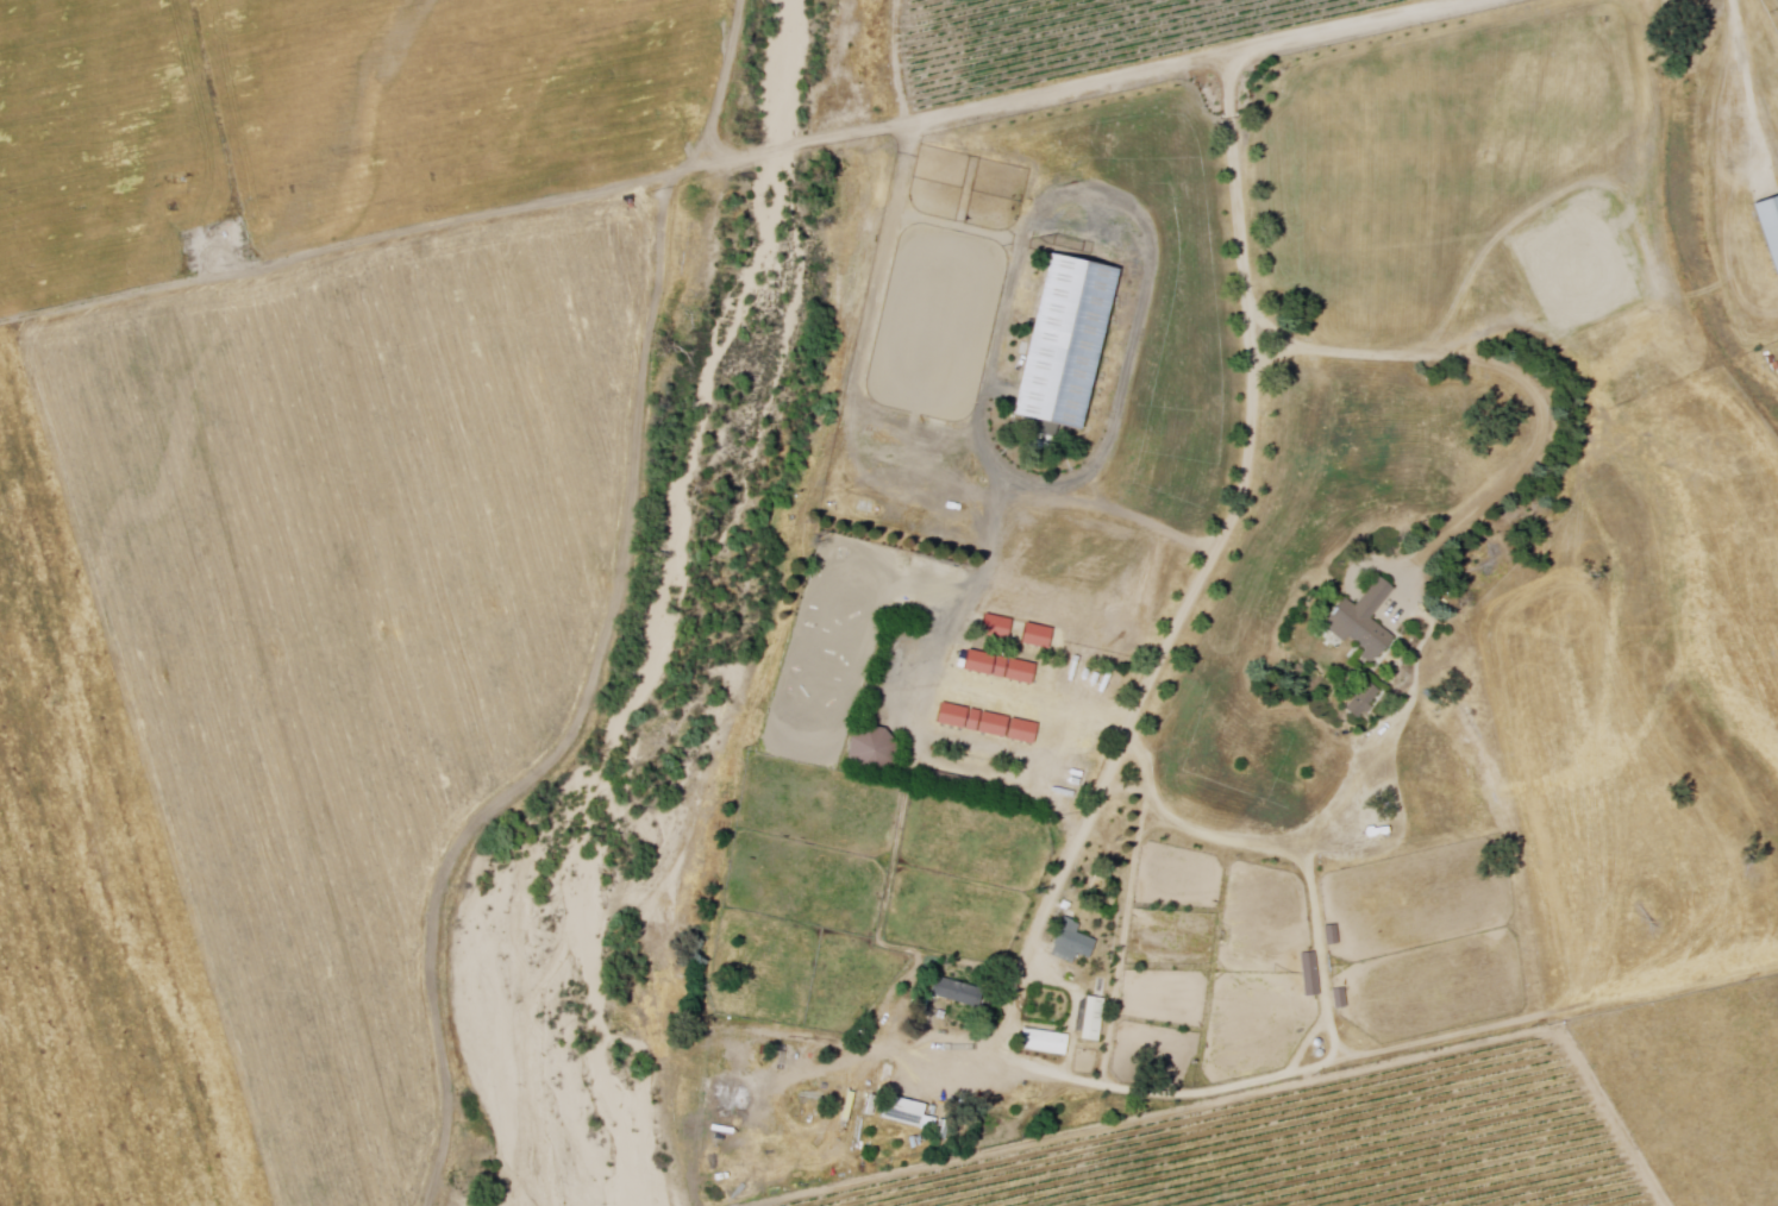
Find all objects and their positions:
road: (1348, 24)
road: (893, 126)
building: (1768, 228)
building: (1064, 341)
road: (1515, 369)
building: (932, 488)
building: (924, 517)
road: (1210, 571)
building: (1361, 623)
crop: (290, 689)
building: (1363, 702)
building: (1068, 729)
building: (870, 750)
building: (1047, 773)
building: (966, 787)
building: (1329, 936)
building: (1072, 943)
building: (1308, 975)
building: (954, 992)
building: (1093, 1019)
building: (1043, 1043)
building: (741, 1053)
building: (881, 1080)
building: (906, 1113)

